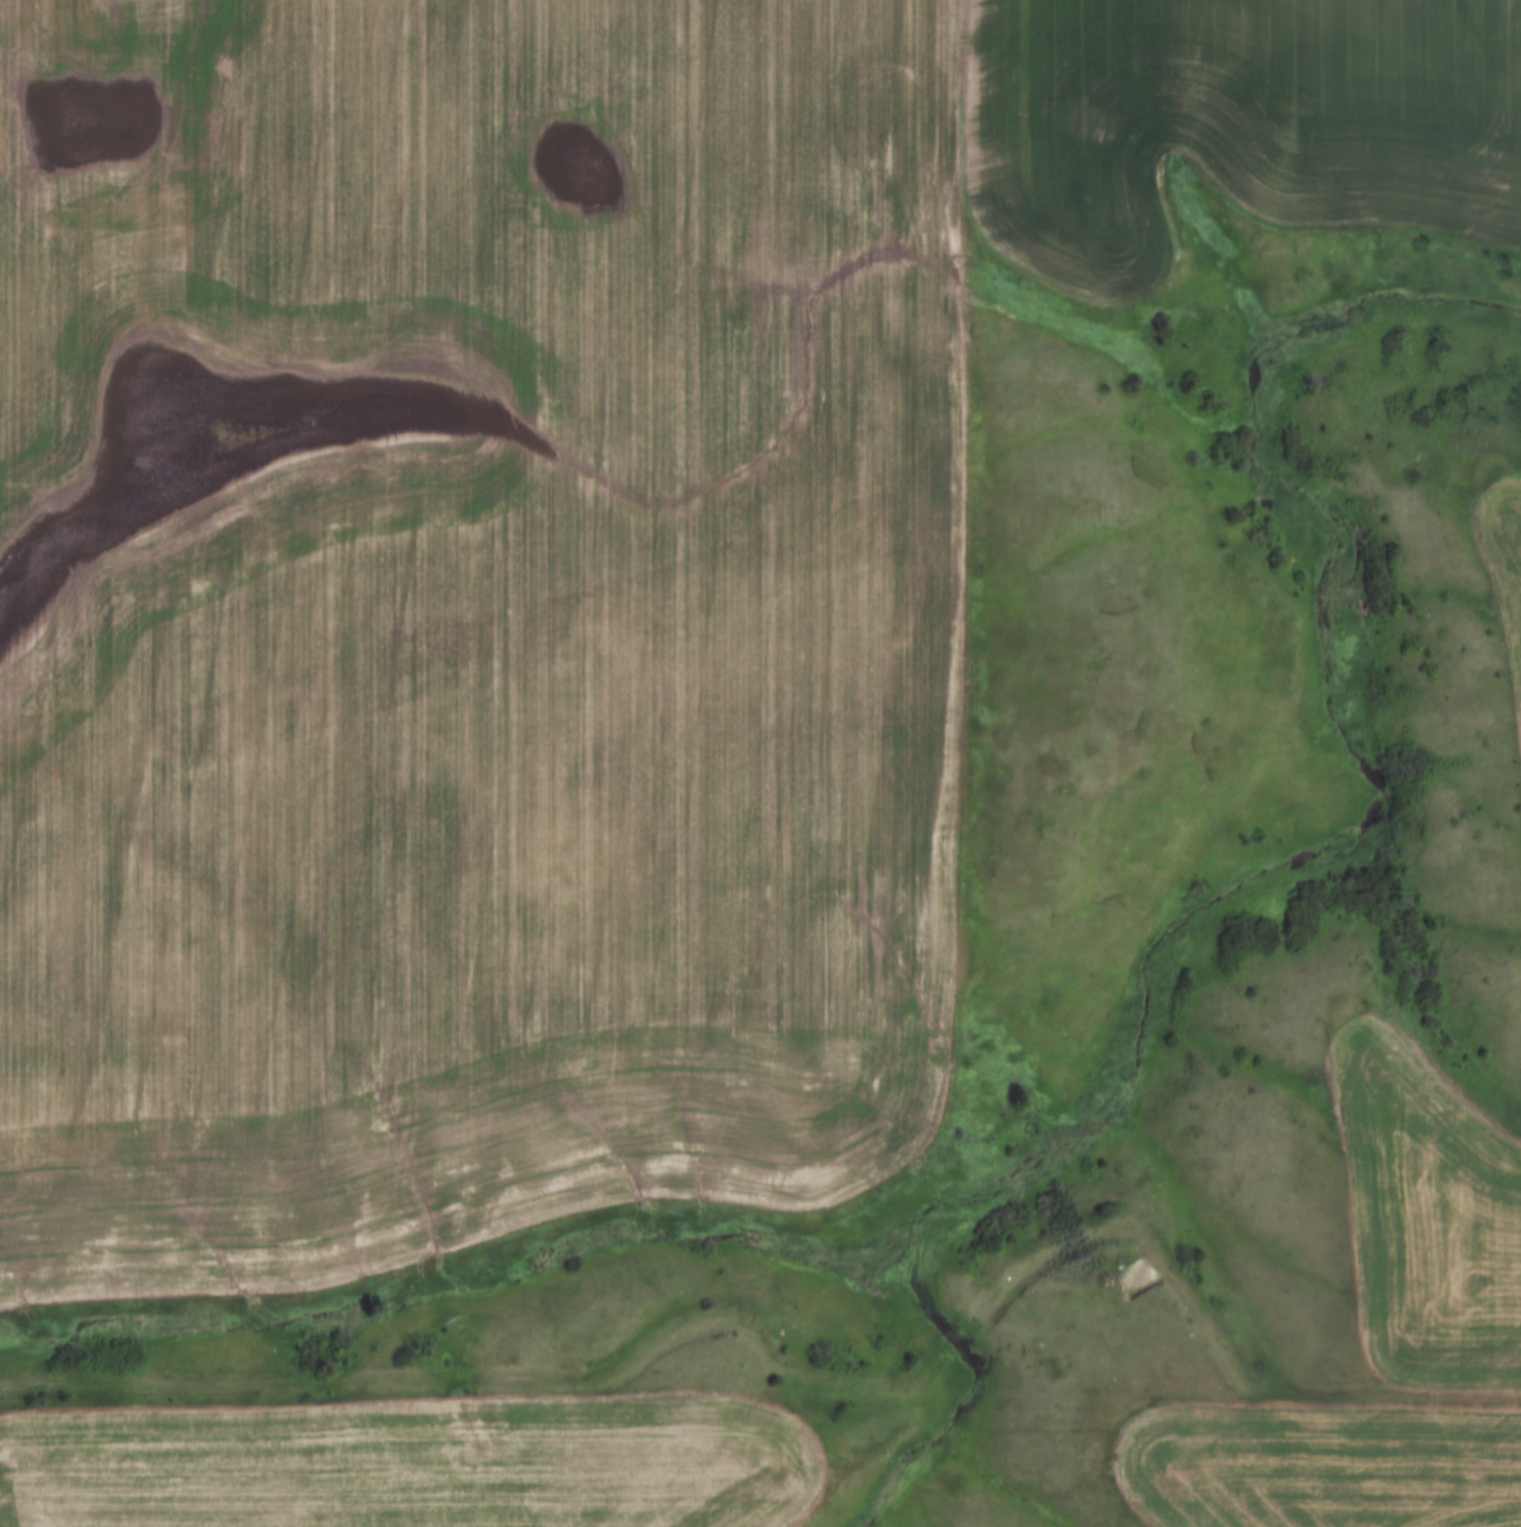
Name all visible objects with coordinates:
road: (760, 1312)

